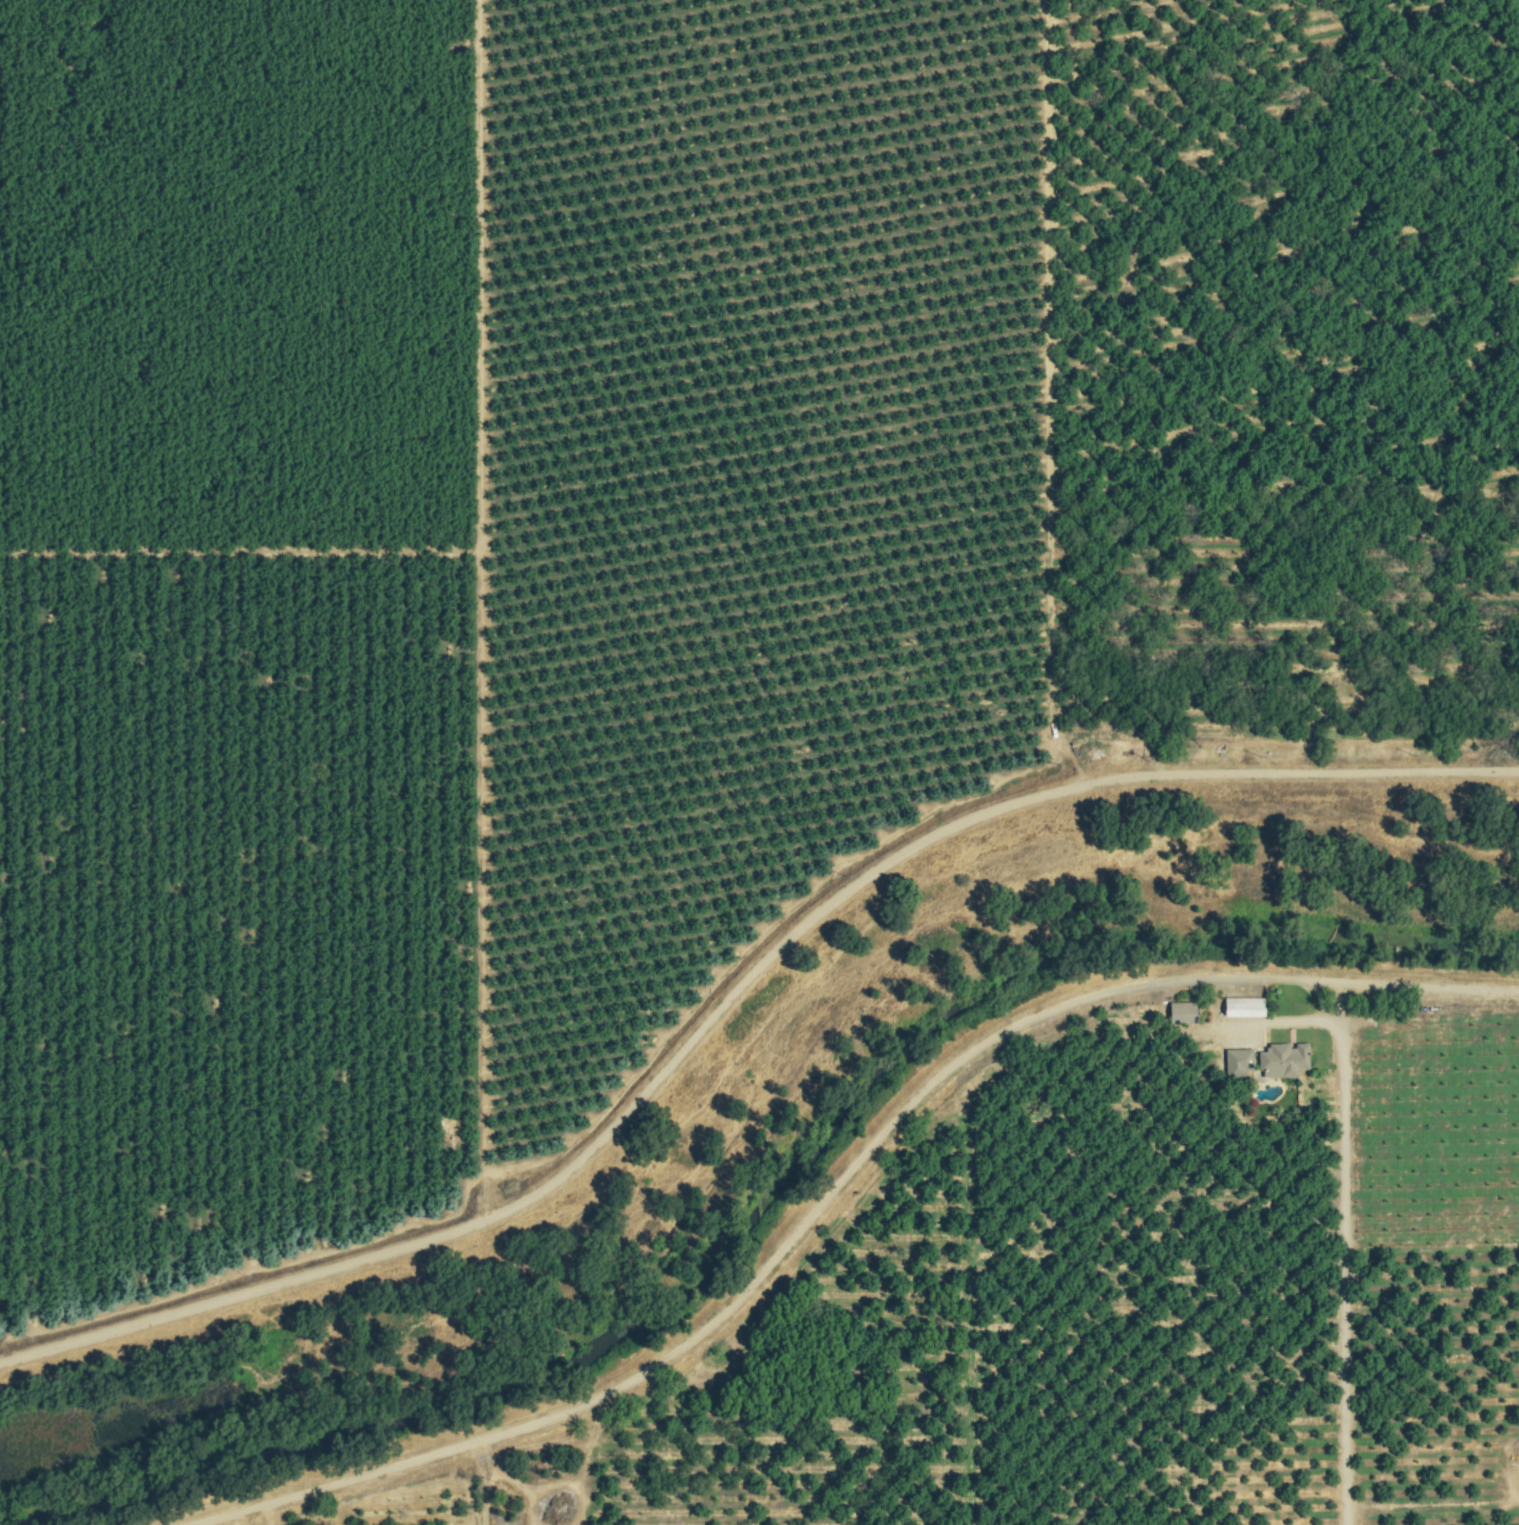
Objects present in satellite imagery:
road: (483, 294)
road: (1307, 972)
road: (736, 994)
building: (1246, 1007)
building: (1183, 1012)
road: (745, 1050)
building: (1285, 1060)
building: (1240, 1062)
road: (841, 1184)
road: (1349, 1201)
road: (570, 1445)
road: (533, 1479)
road: (489, 1481)

